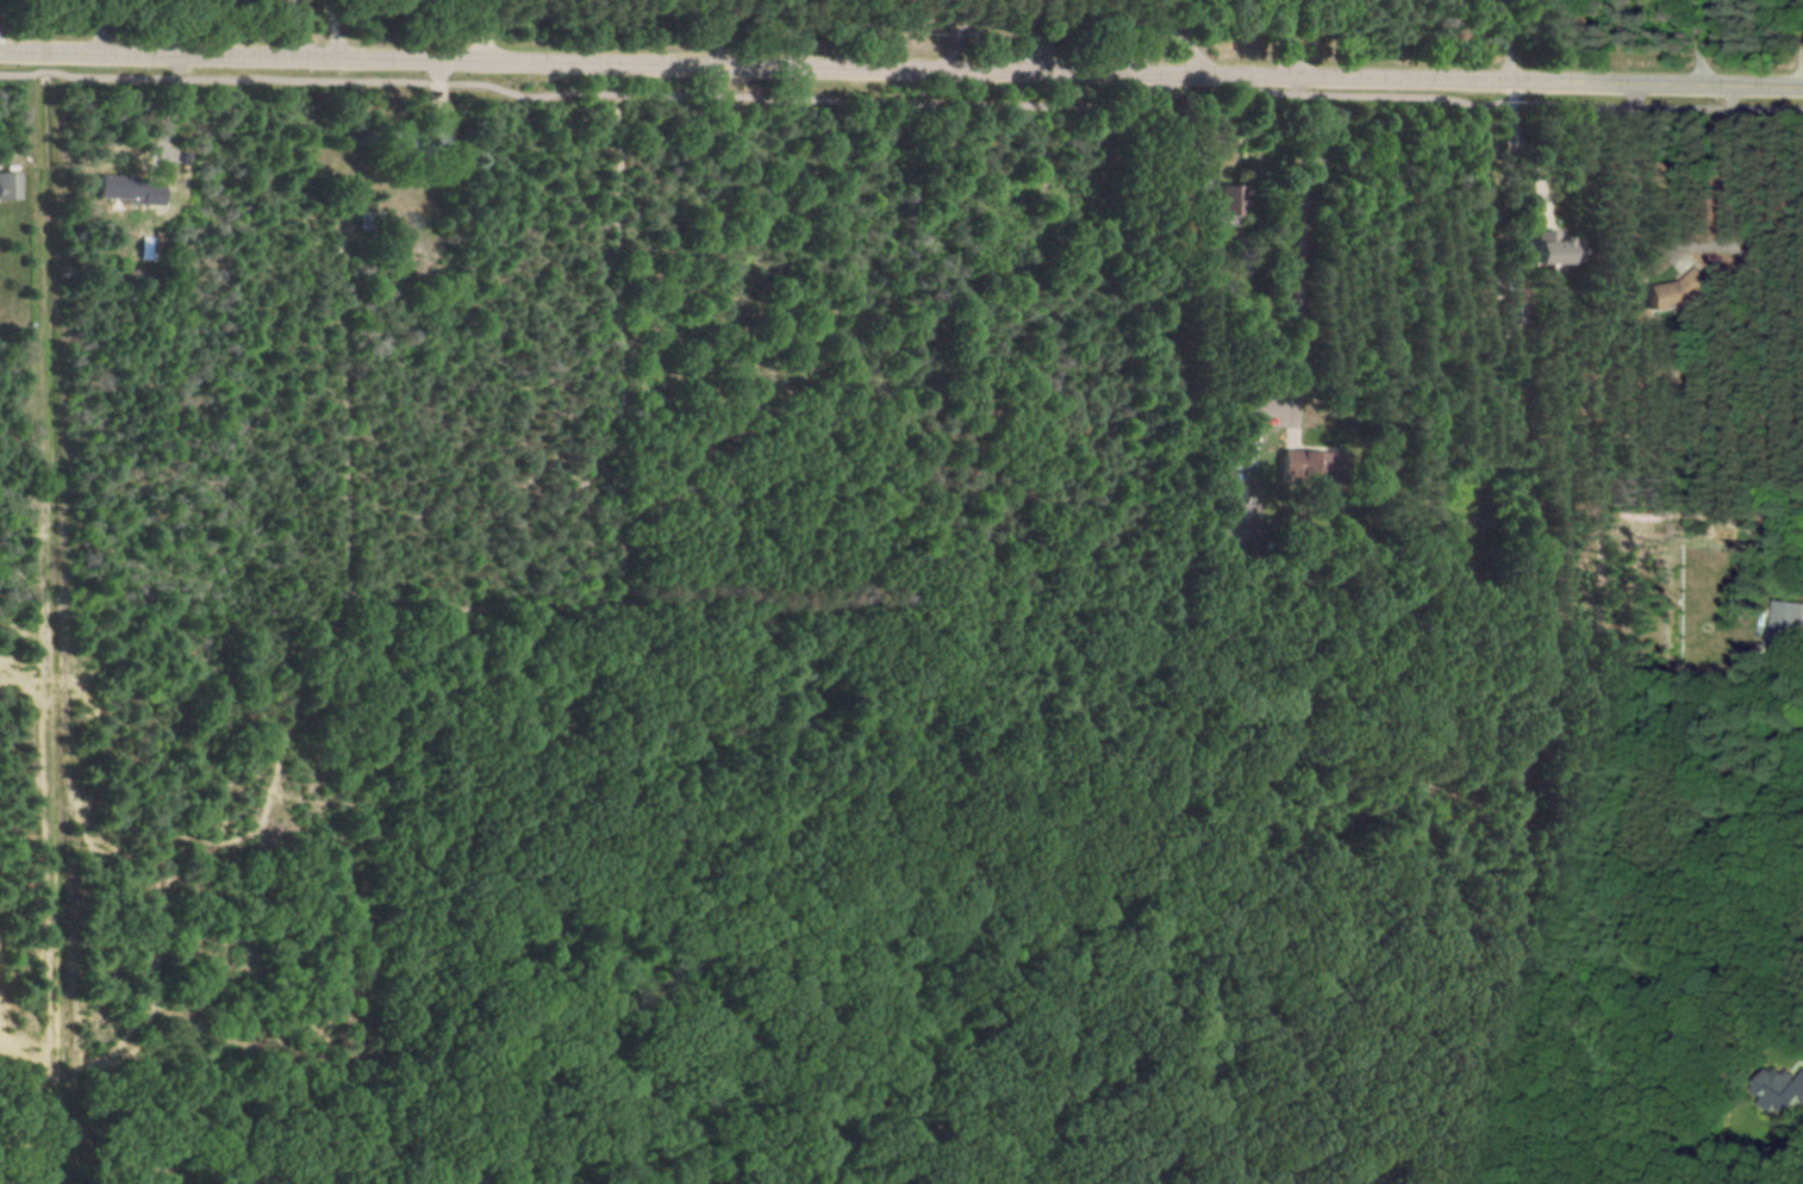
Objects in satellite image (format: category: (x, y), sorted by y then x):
road: (101, 29)
road: (291, 30)
road: (333, 30)
road: (481, 32)
road: (725, 33)
road: (1036, 36)
road: (967, 37)
road: (1177, 37)
road: (1290, 38)
road: (1509, 40)
road: (1711, 40)
road: (1802, 66)
road: (901, 70)
road: (1526, 151)
road: (1717, 174)
building: (8, 186)
building: (127, 191)
building: (1223, 201)
road: (1285, 224)
building: (1548, 248)
building: (1674, 291)
building: (1312, 463)
building: (1236, 522)
building: (1788, 618)
building: (1778, 1089)

